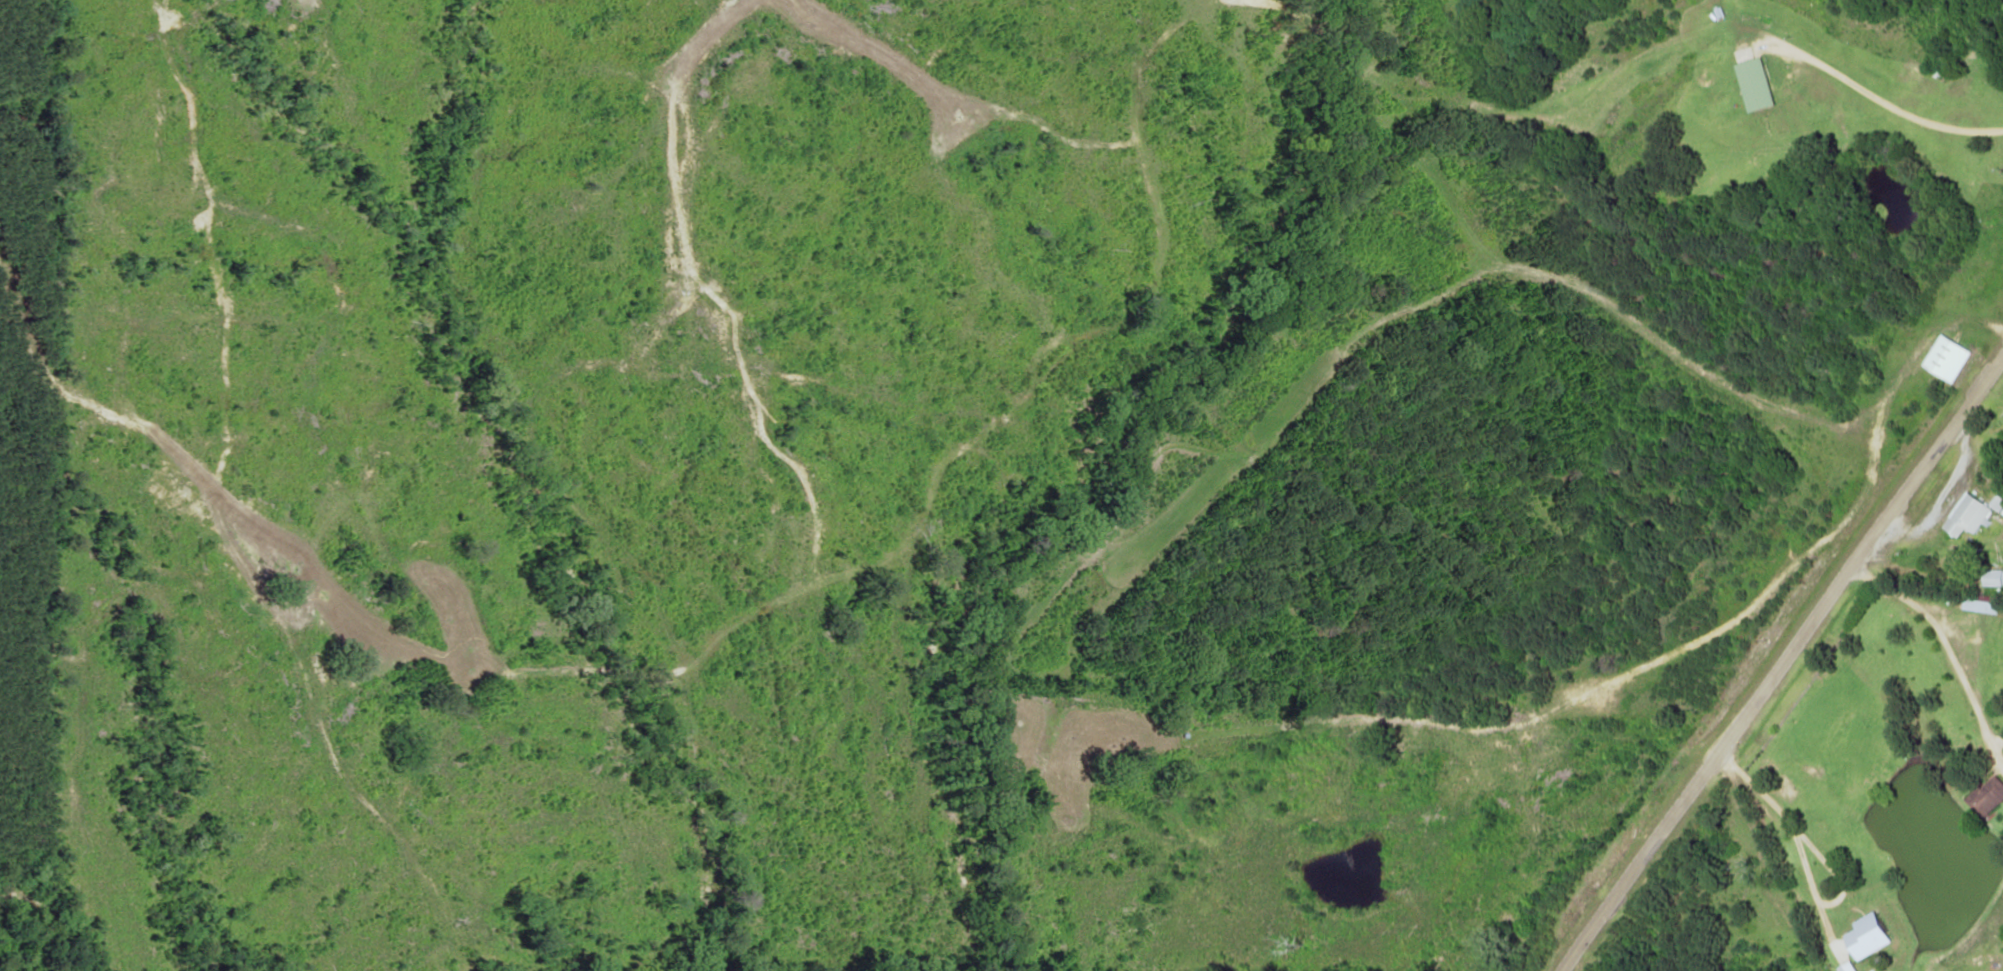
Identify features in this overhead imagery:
building: (1759, 84)
building: (1949, 358)
building: (1973, 514)
building: (1995, 577)
building: (1984, 602)
road: (1781, 666)
building: (1991, 797)
building: (1871, 936)
building: (1852, 967)

